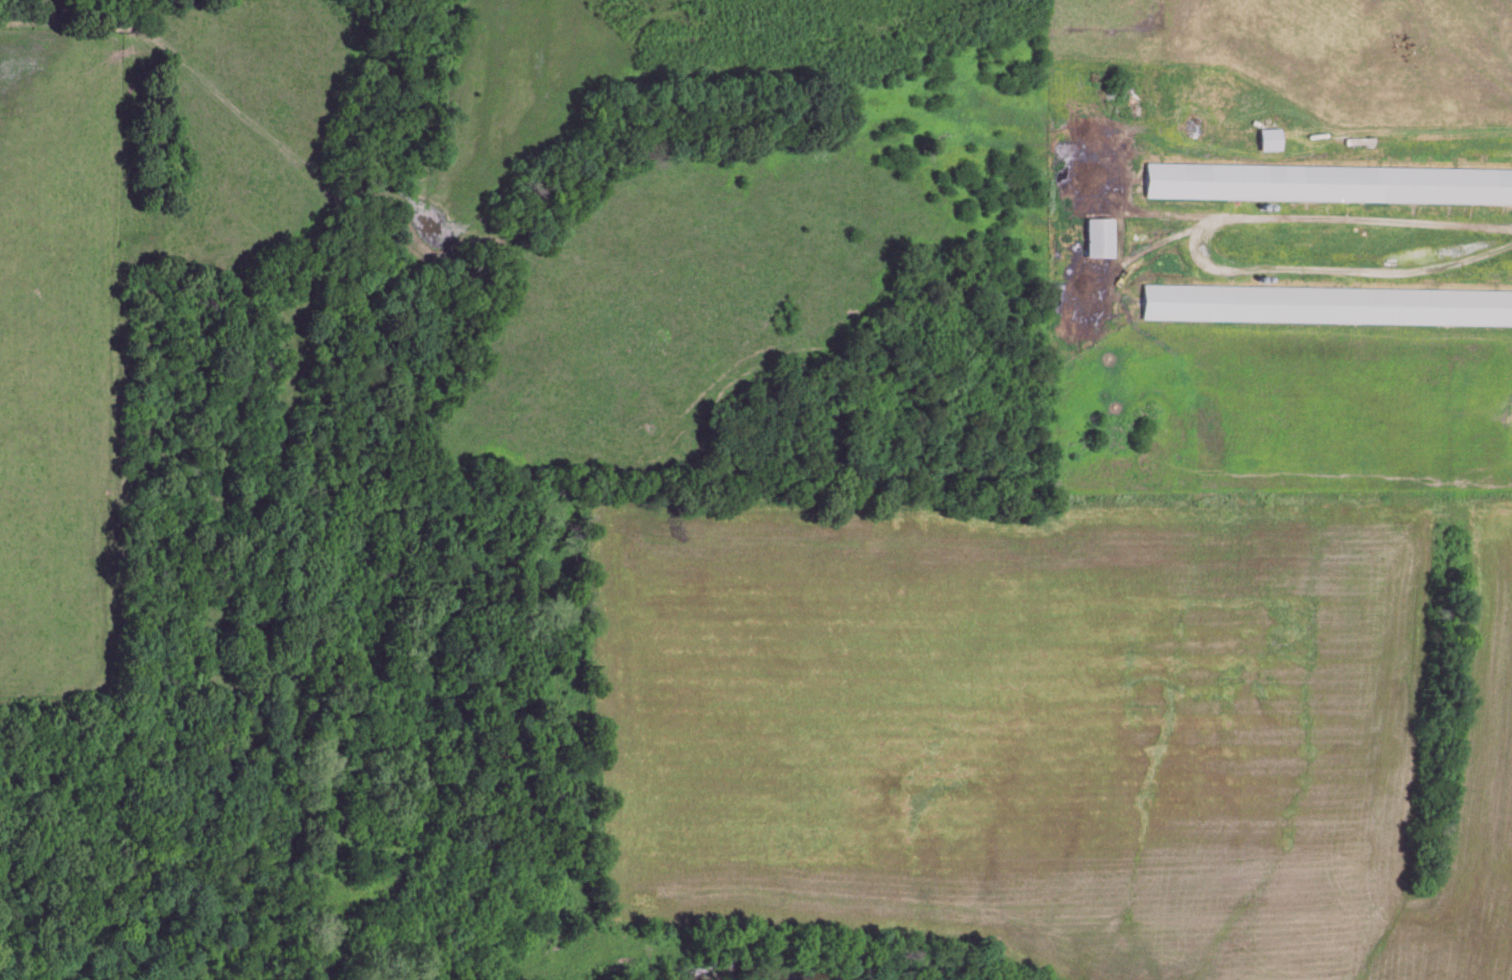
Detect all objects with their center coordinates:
building: (1272, 136)
building: (1330, 180)
building: (1102, 235)
building: (1328, 301)

